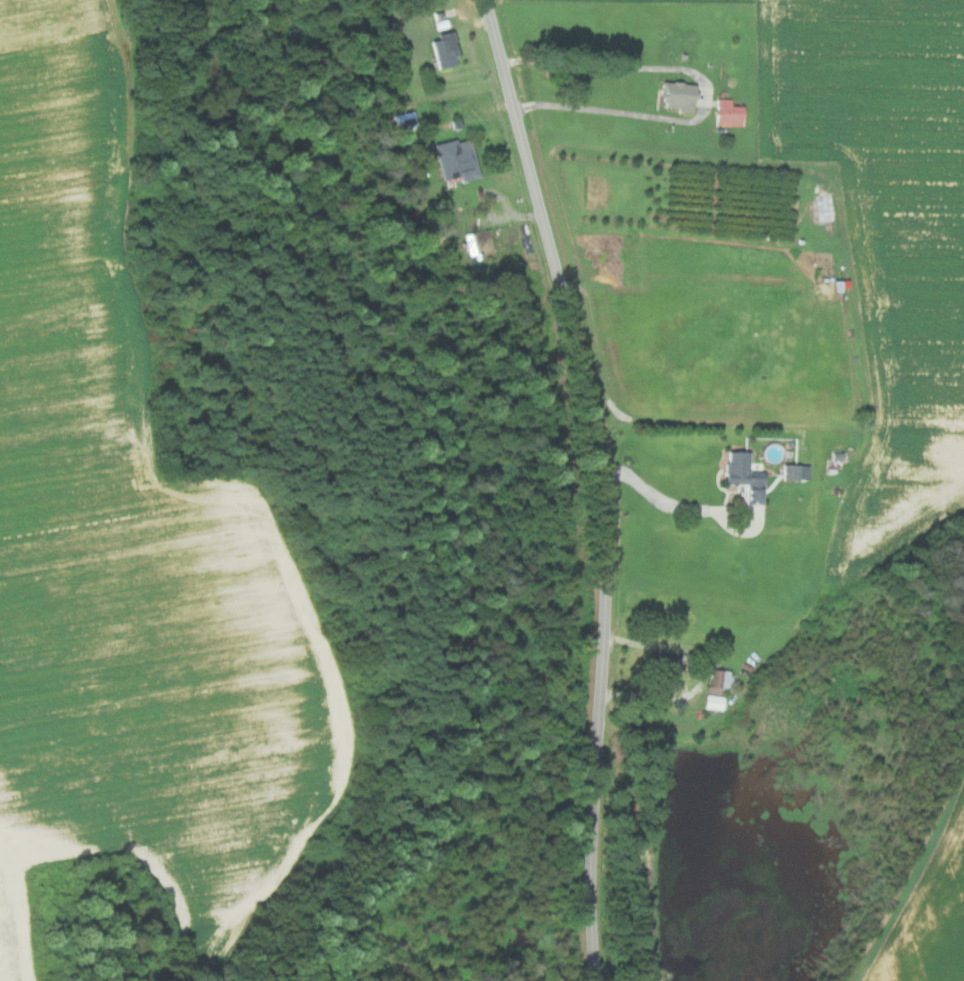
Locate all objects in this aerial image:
building: (443, 50)
road: (707, 89)
building: (676, 96)
building: (727, 113)
building: (454, 160)
building: (789, 471)
building: (742, 476)
road: (601, 483)
road: (665, 494)
building: (663, 671)
building: (716, 688)

